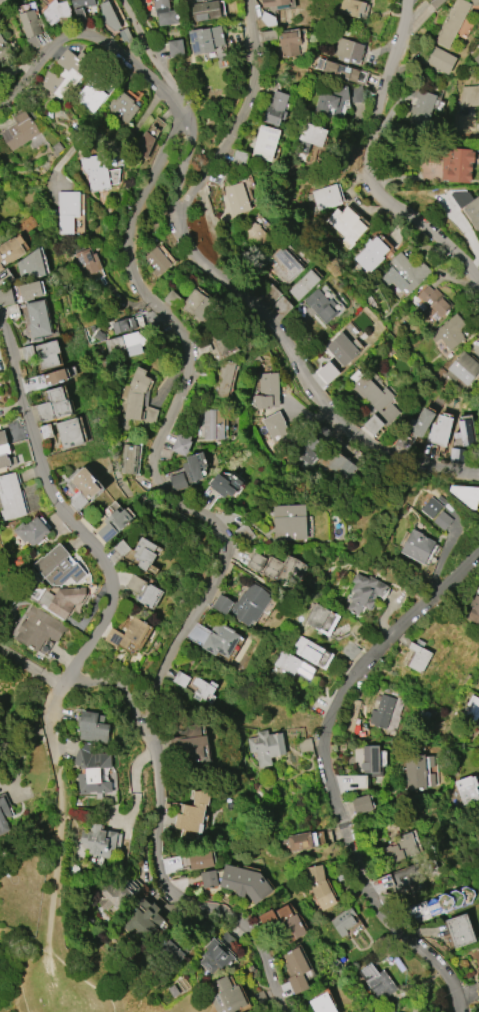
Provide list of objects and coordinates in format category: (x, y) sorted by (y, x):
building: (475, 2)
building: (82, 3)
building: (275, 4)
building: (350, 7)
building: (205, 10)
building: (56, 11)
building: (165, 13)
building: (109, 16)
building: (30, 23)
building: (451, 23)
road: (80, 33)
building: (205, 39)
building: (289, 42)
road: (152, 47)
building: (175, 48)
building: (4, 49)
building: (348, 50)
building: (477, 59)
building: (440, 60)
building: (342, 71)
building: (66, 72)
building: (91, 93)
building: (469, 96)
building: (336, 98)
building: (122, 107)
building: (275, 108)
building: (421, 108)
road: (238, 118)
building: (20, 131)
road: (109, 132)
building: (309, 137)
building: (144, 143)
building: (264, 143)
road: (369, 162)
building: (456, 164)
building: (95, 172)
building: (325, 197)
building: (236, 198)
building: (67, 211)
building: (473, 212)
building: (346, 225)
building: (255, 231)
building: (11, 249)
building: (371, 254)
building: (157, 261)
building: (87, 262)
building: (285, 265)
building: (30, 266)
building: (1, 267)
building: (402, 273)
building: (303, 285)
building: (29, 290)
building: (6, 298)
building: (433, 302)
building: (199, 305)
building: (320, 306)
building: (37, 319)
road: (272, 321)
building: (122, 325)
building: (449, 332)
building: (223, 342)
building: (125, 344)
building: (342, 349)
building: (47, 354)
building: (462, 368)
building: (328, 372)
building: (55, 376)
building: (222, 378)
building: (267, 391)
building: (135, 394)
building: (374, 403)
building: (53, 405)
building: (419, 423)
building: (212, 424)
road: (166, 425)
building: (277, 430)
building: (439, 431)
building: (464, 432)
building: (69, 433)
building: (478, 438)
building: (181, 444)
building: (4, 450)
building: (129, 458)
building: (337, 464)
building: (193, 466)
building: (225, 484)
building: (83, 487)
building: (466, 494)
building: (11, 497)
building: (208, 497)
building: (431, 508)
building: (443, 520)
building: (289, 522)
building: (113, 524)
building: (32, 531)
building: (417, 546)
building: (121, 548)
road: (100, 553)
building: (144, 553)
building: (58, 567)
building: (283, 570)
building: (142, 590)
building: (364, 593)
building: (62, 599)
building: (249, 604)
building: (474, 610)
building: (316, 616)
building: (39, 628)
building: (127, 633)
building: (220, 640)
building: (311, 652)
building: (417, 655)
building: (292, 665)
road: (31, 669)
road: (113, 683)
building: (204, 690)
building: (471, 709)
building: (381, 711)
building: (351, 716)
building: (92, 727)
building: (190, 743)
road: (402, 745)
building: (265, 747)
building: (370, 759)
building: (92, 771)
building: (415, 772)
road: (331, 774)
building: (467, 789)
building: (361, 804)
building: (4, 812)
building: (192, 813)
building: (99, 841)
building: (299, 842)
building: (400, 849)
building: (200, 860)
road: (58, 875)
building: (404, 877)
building: (208, 879)
building: (244, 883)
building: (319, 887)
road: (171, 891)
building: (111, 894)
building: (431, 908)
building: (142, 917)
building: (343, 921)
building: (289, 924)
building: (460, 930)
building: (172, 952)
building: (215, 957)
park: (64, 959)
building: (297, 969)
road: (86, 981)
building: (377, 982)
road: (24, 986)
building: (477, 988)
building: (226, 996)
building: (322, 1004)

